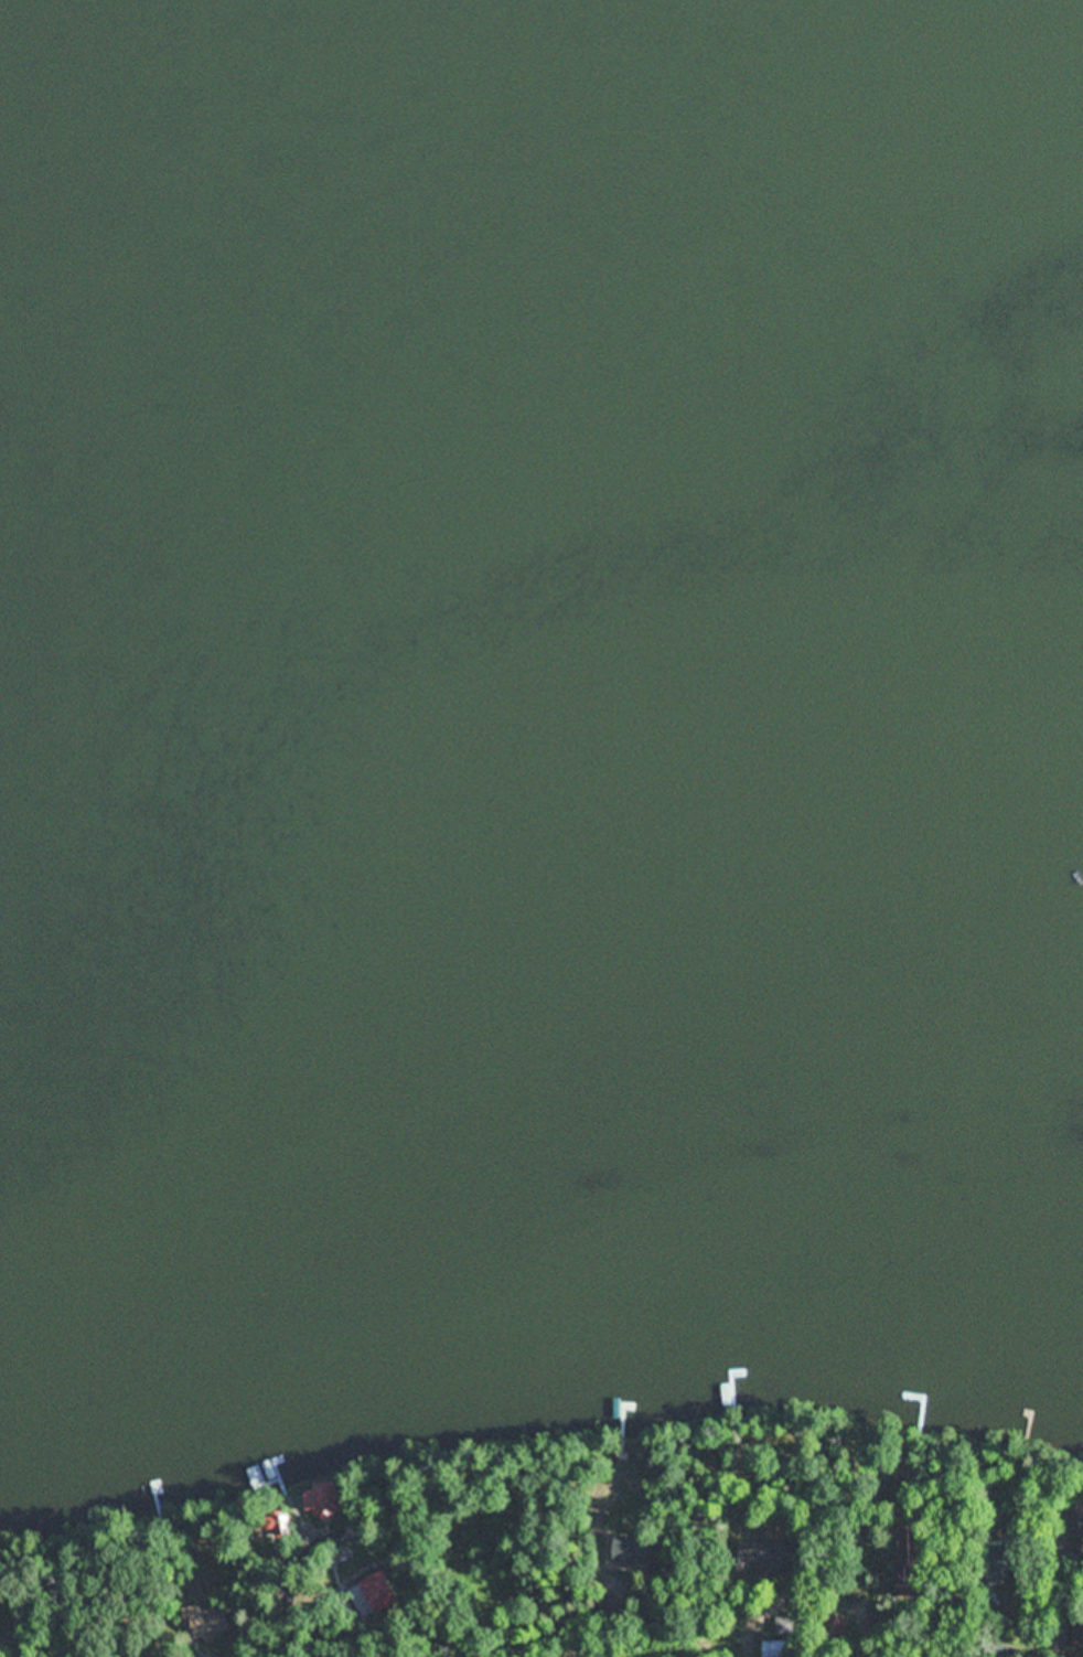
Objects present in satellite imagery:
building: (623, 1552)
road: (1046, 1629)
road: (899, 1635)
road: (791, 1636)
building: (770, 1649)
road: (708, 1653)

